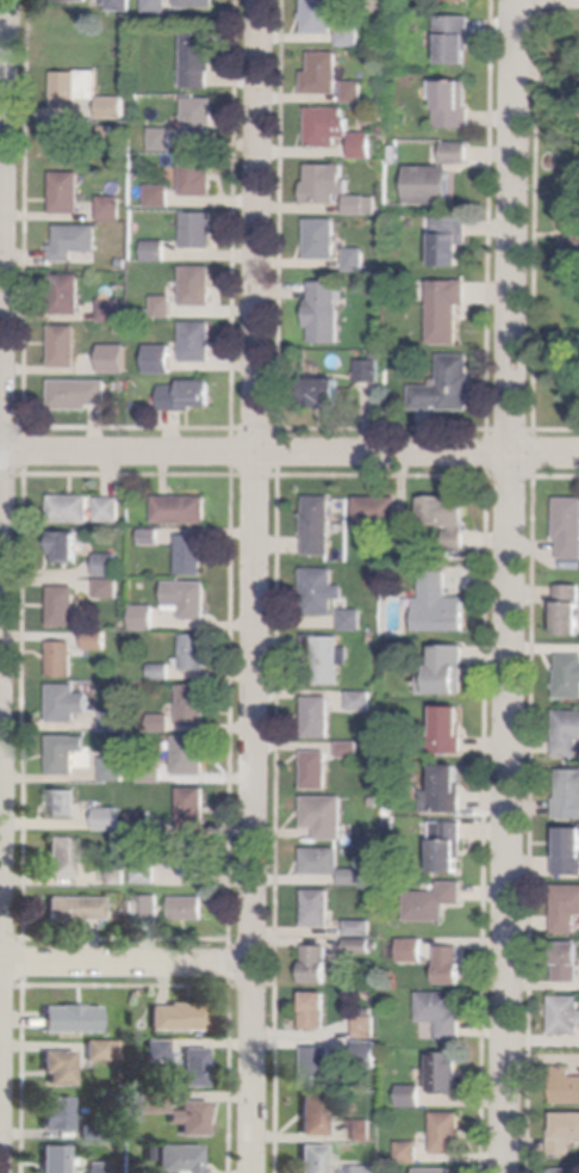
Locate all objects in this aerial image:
building: (79, 0)
building: (462, 0)
building: (198, 4)
building: (122, 5)
building: (157, 6)
building: (319, 17)
building: (350, 36)
building: (454, 38)
building: (199, 58)
building: (323, 73)
road: (549, 82)
building: (76, 87)
building: (355, 92)
building: (453, 105)
building: (113, 107)
building: (200, 118)
building: (325, 128)
building: (108, 131)
building: (163, 140)
building: (359, 143)
building: (456, 153)
building: (396, 154)
building: (198, 175)
building: (326, 183)
building: (430, 185)
building: (68, 193)
building: (161, 196)
building: (362, 205)
building: (112, 209)
road: (512, 226)
building: (200, 230)
park: (546, 230)
road: (534, 236)
building: (323, 239)
building: (450, 240)
building: (76, 241)
building: (157, 252)
building: (357, 260)
building: (199, 285)
building: (68, 295)
building: (164, 307)
building: (447, 309)
building: (113, 310)
building: (325, 313)
building: (199, 341)
building: (66, 346)
building: (164, 362)
building: (117, 365)
building: (98, 366)
building: (136, 369)
building: (369, 371)
building: (447, 385)
building: (324, 393)
building: (80, 394)
building: (188, 395)
road: (4, 416)
road: (254, 451)
road: (544, 453)
building: (71, 508)
building: (110, 510)
building: (182, 510)
building: (376, 510)
building: (447, 517)
building: (319, 525)
building: (568, 526)
building: (403, 536)
building: (152, 537)
building: (67, 547)
building: (193, 554)
building: (110, 564)
road: (256, 586)
building: (108, 588)
building: (322, 591)
building: (188, 599)
building: (440, 605)
building: (64, 606)
building: (568, 610)
building: (143, 618)
building: (353, 619)
building: (162, 622)
building: (375, 638)
building: (96, 641)
building: (193, 653)
building: (326, 658)
building: (63, 659)
building: (444, 669)
building: (161, 672)
building: (568, 677)
building: (359, 699)
building: (64, 703)
building: (193, 704)
building: (318, 717)
building: (116, 721)
building: (161, 723)
building: (448, 730)
building: (567, 734)
building: (349, 749)
building: (66, 753)
building: (191, 754)
building: (113, 768)
building: (317, 771)
building: (152, 774)
building: (444, 791)
building: (568, 794)
building: (64, 803)
building: (193, 808)
road: (510, 813)
building: (112, 815)
building: (325, 816)
building: (142, 822)
building: (448, 846)
building: (567, 852)
building: (62, 857)
building: (194, 857)
building: (322, 862)
building: (145, 872)
building: (114, 876)
building: (354, 877)
building: (375, 894)
building: (434, 902)
building: (148, 906)
building: (75, 908)
building: (188, 908)
building: (317, 908)
building: (566, 909)
building: (360, 927)
building: (361, 946)
building: (412, 950)
building: (567, 962)
road: (127, 963)
building: (316, 964)
building: (450, 964)
building: (315, 1011)
building: (442, 1013)
building: (565, 1014)
building: (181, 1015)
building: (73, 1018)
building: (366, 1026)
building: (133, 1029)
building: (98, 1050)
building: (157, 1050)
building: (366, 1054)
building: (60, 1067)
building: (197, 1067)
building: (317, 1067)
building: (447, 1072)
building: (566, 1086)
building: (411, 1095)
building: (151, 1101)
building: (58, 1112)
building: (315, 1115)
building: (195, 1118)
building: (361, 1130)
building: (93, 1132)
building: (449, 1132)
building: (565, 1134)
building: (409, 1149)
building: (150, 1154)
building: (182, 1157)
building: (55, 1159)
building: (315, 1159)
building: (100, 1167)
building: (361, 1169)
building: (436, 1171)
building: (564, 1171)

